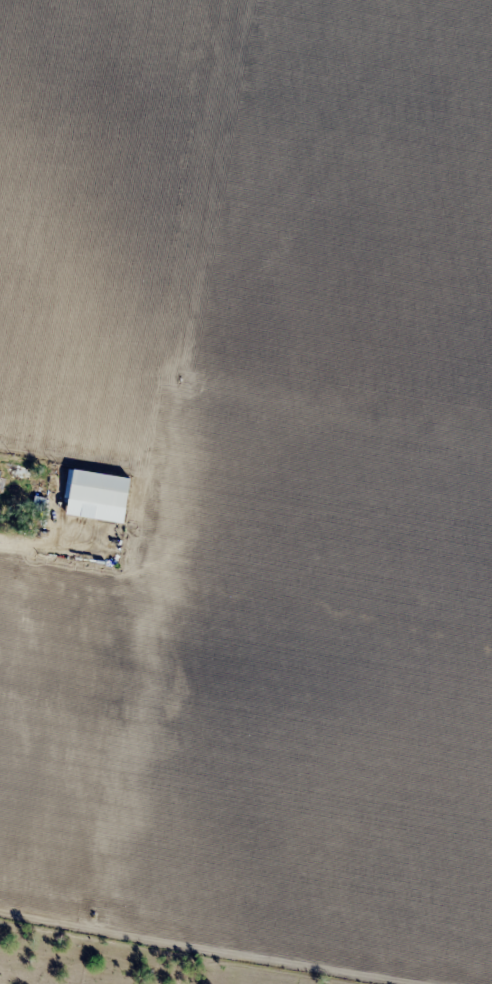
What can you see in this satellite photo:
road: (231, 945)

